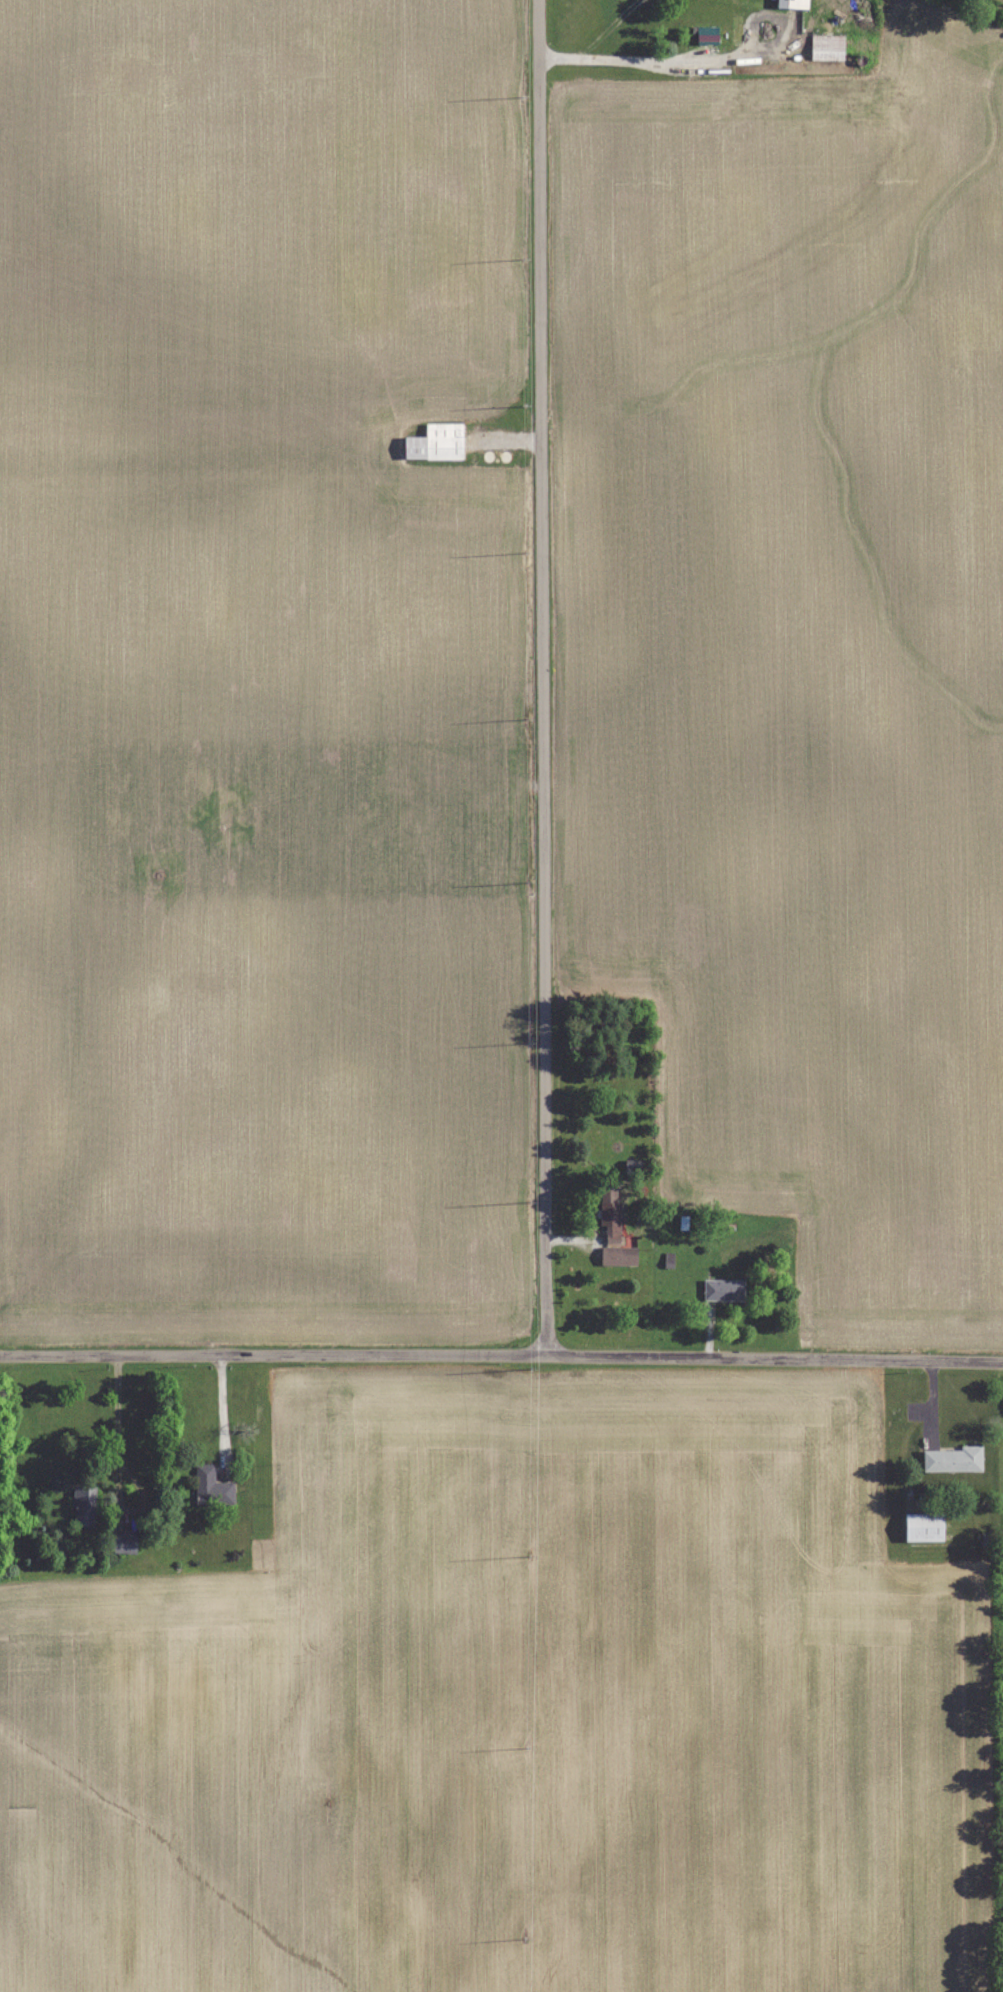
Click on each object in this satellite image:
building: (793, 3)
building: (707, 33)
building: (827, 46)
road: (655, 63)
building: (436, 442)
road: (542, 677)
building: (610, 1212)
building: (619, 1255)
building: (723, 1290)
road: (501, 1354)
road: (218, 1410)
road: (113, 1430)
building: (953, 1459)
building: (212, 1487)
building: (84, 1505)
building: (925, 1526)
building: (122, 1543)

